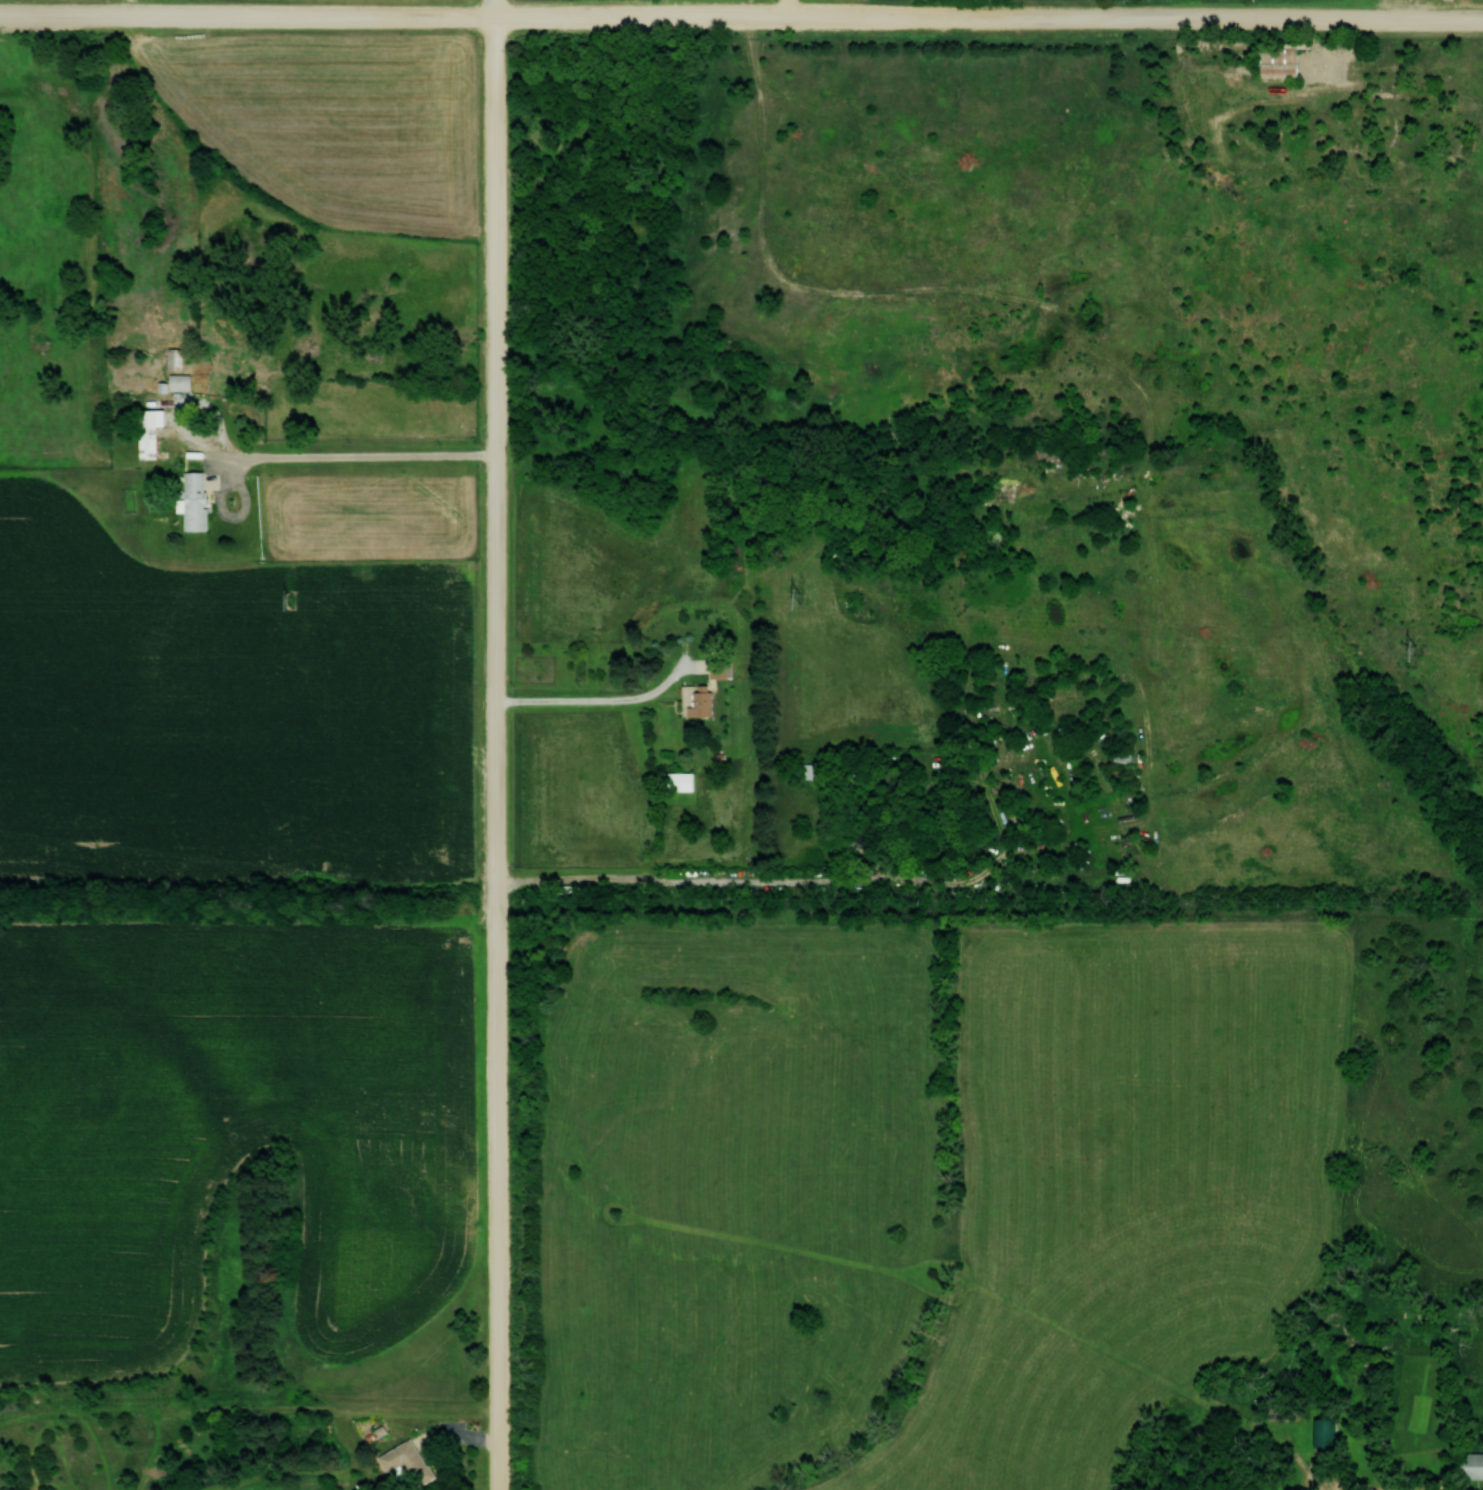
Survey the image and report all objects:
road: (499, 9)
road: (741, 18)
building: (1284, 61)
road: (1069, 328)
building: (176, 359)
building: (185, 381)
building: (155, 431)
road: (378, 455)
building: (201, 500)
power tower: (801, 598)
power tower: (292, 600)
power tower: (1422, 650)
building: (723, 669)
road: (609, 702)
building: (705, 703)
road: (502, 754)
building: (1126, 756)
building: (819, 770)
building: (684, 781)
building: (864, 841)
road: (762, 883)
road: (1407, 1391)
building: (1326, 1432)
building: (413, 1463)
building: (1477, 1465)

